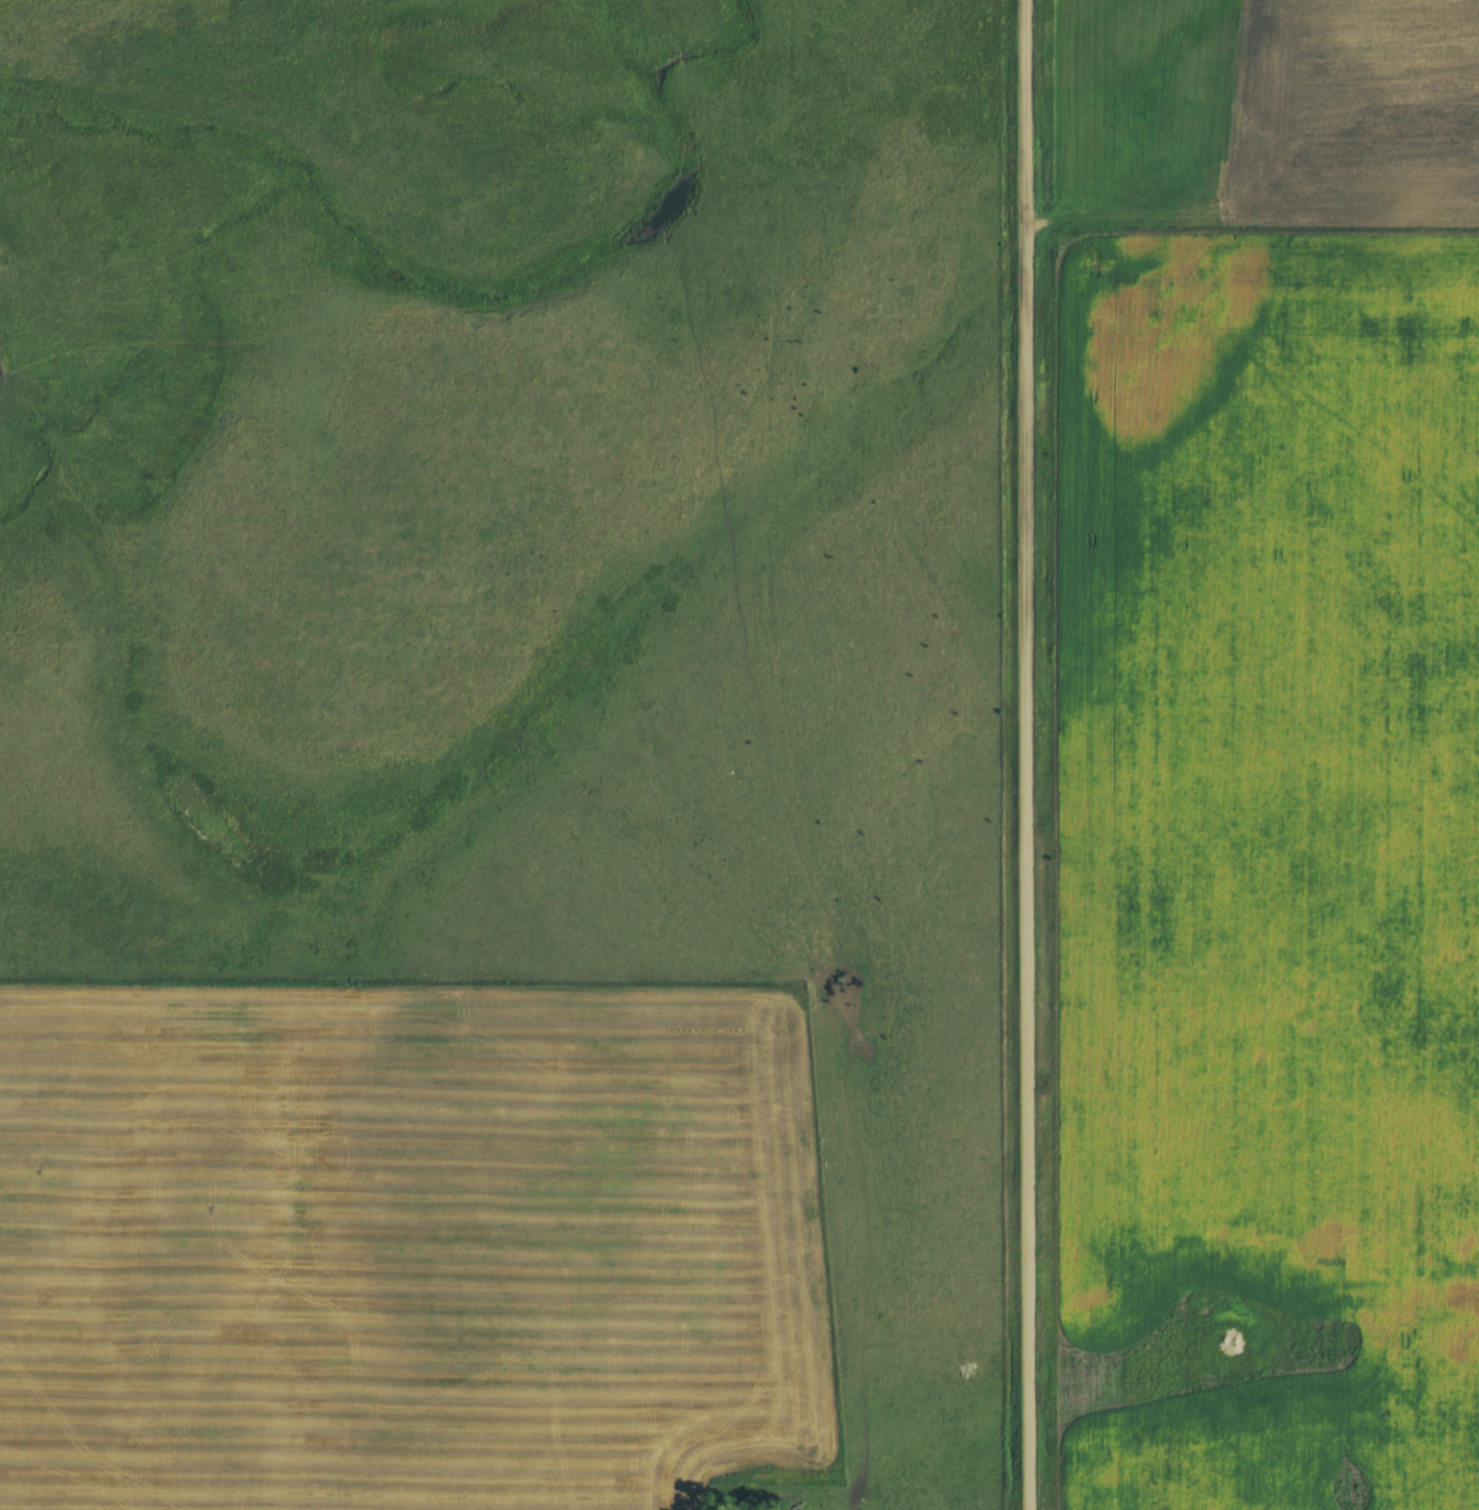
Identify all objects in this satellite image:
road: (1040, 755)

